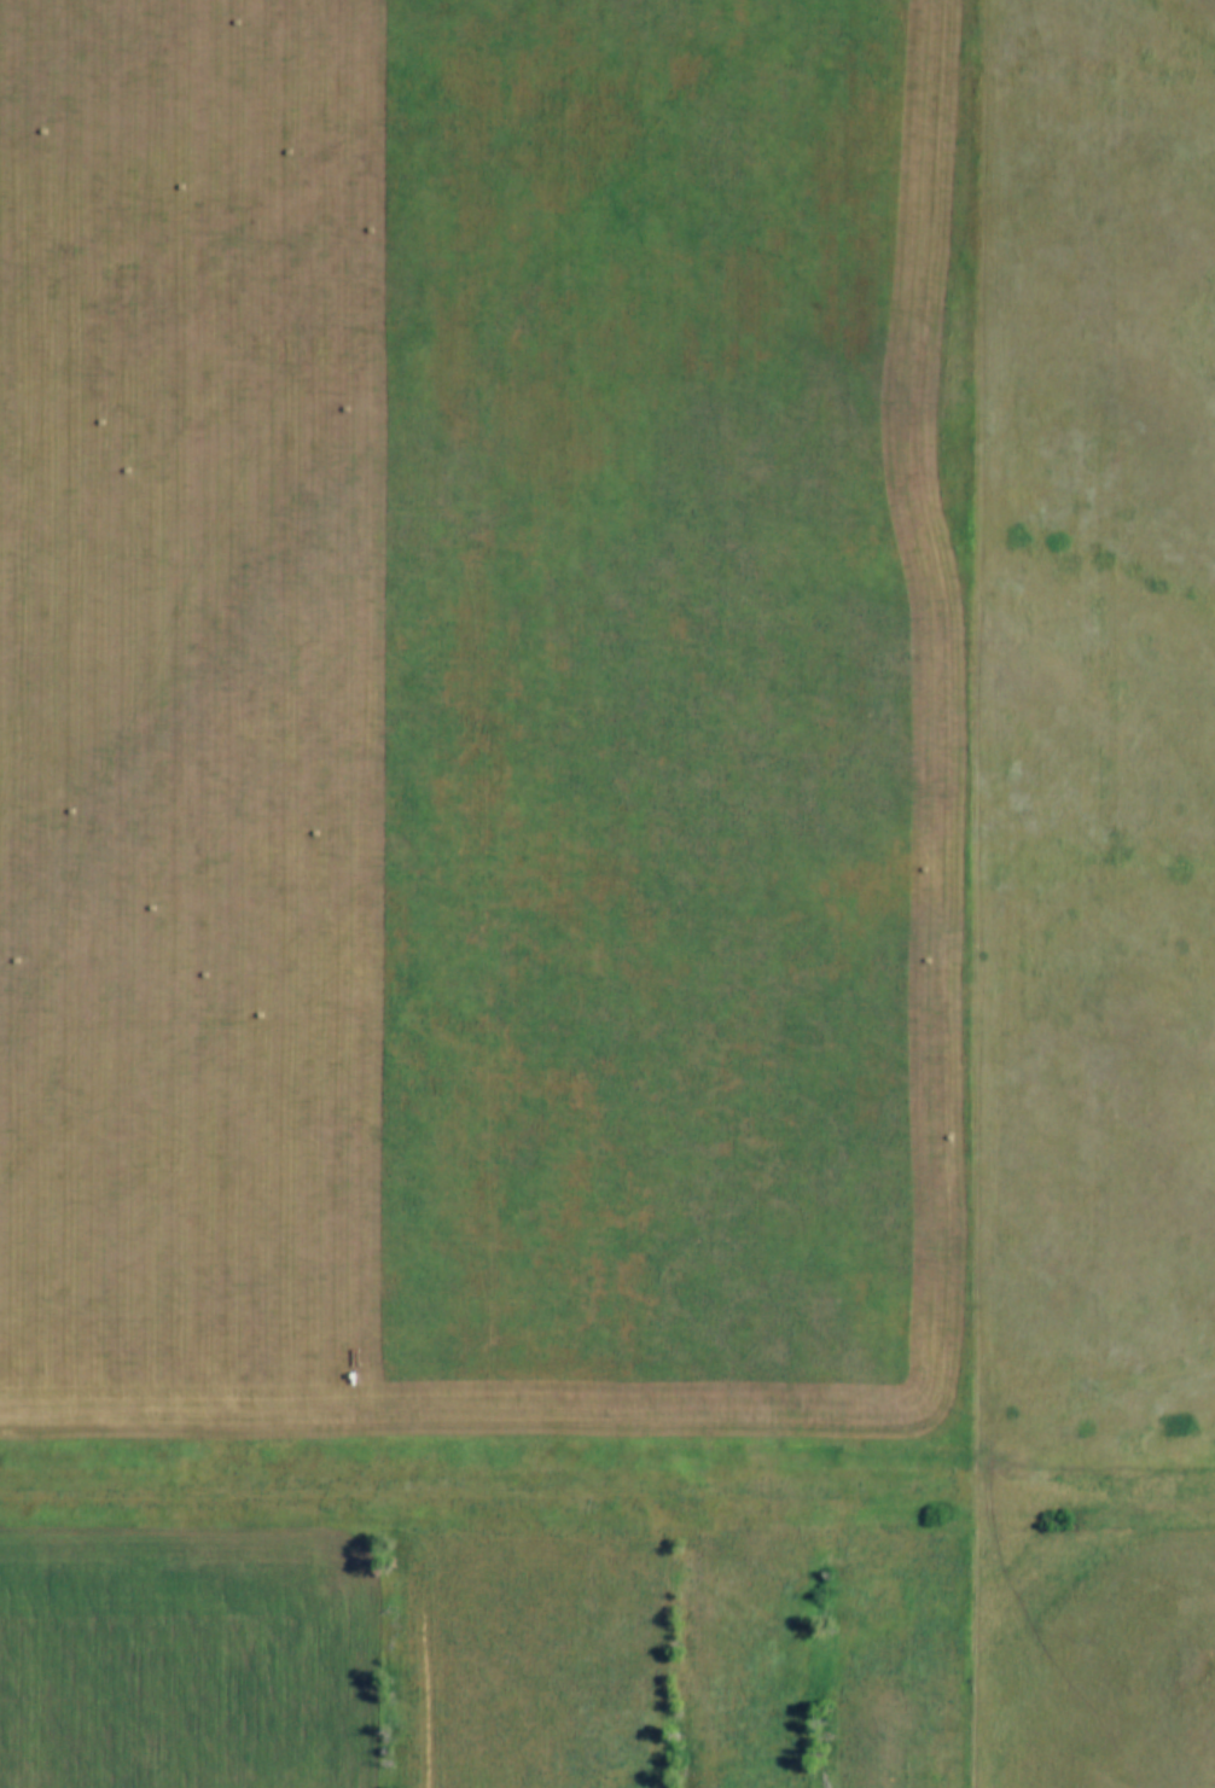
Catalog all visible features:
road: (607, 1495)

